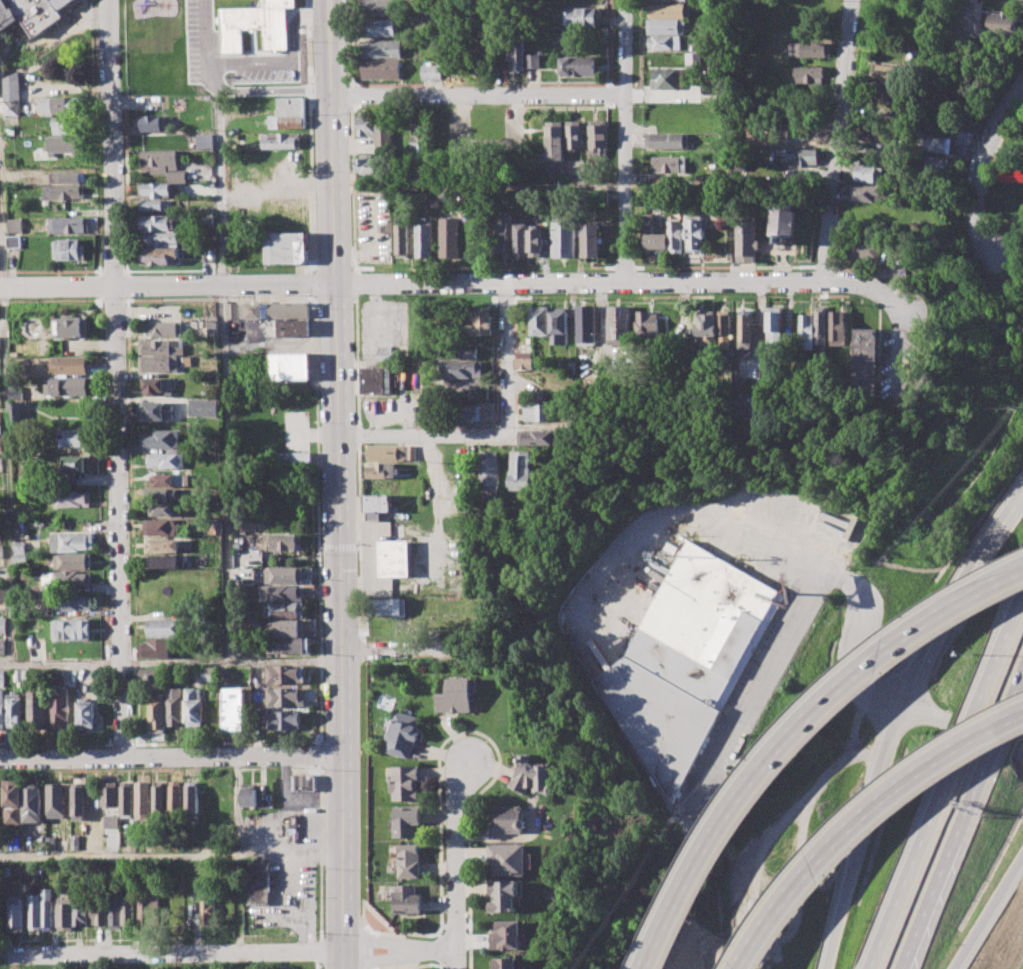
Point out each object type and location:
building: (659, 0)
building: (63, 3)
building: (380, 7)
building: (667, 10)
road: (965, 13)
building: (38, 14)
building: (7, 16)
building: (582, 17)
building: (1001, 21)
building: (264, 22)
building: (665, 26)
building: (382, 27)
building: (663, 43)
building: (382, 48)
park: (168, 49)
building: (811, 49)
building: (481, 52)
building: (520, 56)
building: (692, 59)
building: (577, 66)
building: (382, 69)
building: (430, 73)
building: (805, 75)
building: (887, 76)
building: (666, 79)
building: (928, 82)
building: (281, 87)
road: (478, 93)
building: (883, 94)
building: (13, 95)
building: (63, 105)
building: (287, 114)
building: (150, 123)
building: (65, 125)
building: (599, 134)
building: (377, 135)
building: (574, 135)
building: (870, 135)
road: (310, 137)
building: (963, 137)
building: (556, 140)
road: (623, 140)
building: (203, 141)
road: (219, 141)
building: (281, 141)
building: (667, 141)
road: (835, 141)
road: (112, 142)
building: (419, 142)
building: (64, 143)
building: (933, 143)
building: (794, 157)
building: (158, 160)
building: (933, 163)
building: (670, 164)
building: (367, 166)
road: (980, 167)
building: (865, 172)
building: (1010, 175)
building: (175, 176)
building: (155, 189)
building: (63, 191)
building: (867, 193)
building: (150, 204)
building: (732, 210)
building: (784, 220)
building: (155, 222)
building: (15, 225)
building: (68, 225)
road: (2, 227)
building: (657, 232)
building: (499, 233)
building: (697, 233)
building: (678, 235)
building: (403, 236)
building: (451, 236)
building: (563, 236)
building: (425, 237)
building: (522, 237)
building: (159, 239)
building: (592, 240)
building: (746, 240)
building: (14, 241)
building: (537, 241)
building: (286, 248)
building: (68, 249)
building: (864, 250)
building: (160, 255)
building: (898, 272)
road: (514, 280)
road: (308, 283)
road: (57, 285)
building: (275, 310)
building: (232, 311)
building: (541, 321)
building: (622, 322)
building: (482, 323)
building: (587, 324)
building: (773, 324)
building: (706, 325)
building: (649, 326)
building: (822, 326)
building: (72, 327)
building: (562, 327)
building: (744, 327)
building: (806, 327)
building: (164, 328)
building: (290, 328)
building: (724, 328)
building: (838, 328)
building: (461, 351)
building: (160, 355)
road: (511, 356)
building: (526, 356)
building: (865, 361)
building: (69, 365)
building: (293, 367)
building: (462, 369)
building: (379, 380)
building: (66, 386)
building: (158, 386)
building: (201, 407)
building: (155, 410)
building: (466, 412)
building: (537, 412)
road: (423, 435)
building: (540, 437)
building: (73, 438)
building: (159, 439)
building: (0, 448)
building: (412, 452)
building: (387, 453)
building: (294, 457)
building: (166, 460)
building: (74, 463)
building: (489, 470)
building: (383, 471)
building: (520, 471)
road: (223, 472)
road: (339, 474)
road: (6, 475)
building: (170, 480)
building: (163, 494)
building: (73, 498)
road: (1018, 500)
road: (1018, 504)
building: (377, 506)
building: (162, 509)
road: (315, 519)
road: (118, 520)
building: (161, 527)
building: (72, 541)
building: (282, 541)
road: (766, 543)
building: (163, 545)
building: (394, 557)
building: (73, 560)
building: (167, 561)
building: (282, 575)
road: (831, 577)
building: (73, 579)
building: (280, 592)
building: (1, 594)
building: (73, 603)
road: (951, 603)
building: (387, 607)
building: (283, 609)
building: (2, 625)
building: (72, 628)
building: (287, 628)
building: (160, 637)
building: (1, 645)
building: (287, 645)
road: (399, 647)
road: (172, 661)
building: (686, 661)
road: (774, 663)
road: (855, 673)
building: (284, 674)
building: (150, 677)
building: (458, 695)
building: (1, 697)
building: (285, 697)
building: (194, 705)
building: (174, 706)
building: (233, 706)
building: (60, 707)
building: (35, 708)
building: (13, 709)
building: (85, 715)
building: (156, 715)
building: (283, 721)
road: (796, 733)
building: (403, 734)
road: (1019, 750)
road: (172, 755)
road: (314, 755)
building: (535, 776)
road: (947, 781)
building: (303, 782)
building: (405, 782)
building: (108, 794)
building: (248, 794)
building: (175, 797)
building: (125, 798)
building: (191, 799)
building: (54, 800)
building: (142, 800)
building: (10, 801)
building: (158, 801)
building: (77, 803)
building: (30, 805)
building: (406, 819)
building: (508, 819)
road: (862, 822)
road: (964, 825)
building: (291, 828)
road: (864, 835)
road: (470, 838)
road: (439, 839)
road: (320, 852)
road: (171, 853)
building: (507, 858)
building: (408, 860)
road: (456, 862)
building: (260, 883)
building: (503, 895)
building: (408, 899)
building: (146, 905)
road: (439, 906)
building: (37, 910)
building: (208, 910)
road: (987, 911)
building: (70, 912)
building: (96, 912)
building: (120, 912)
building: (10, 916)
road: (407, 916)
road: (382, 918)
road: (456, 925)
road: (369, 930)
building: (508, 934)
road: (366, 949)
road: (318, 950)
road: (232, 951)
road: (440, 951)
road: (342, 959)
road: (345, 959)
building: (507, 963)
road: (318, 964)
park: (172, 965)
road: (412, 965)
road: (394, 968)
road: (439, 968)

